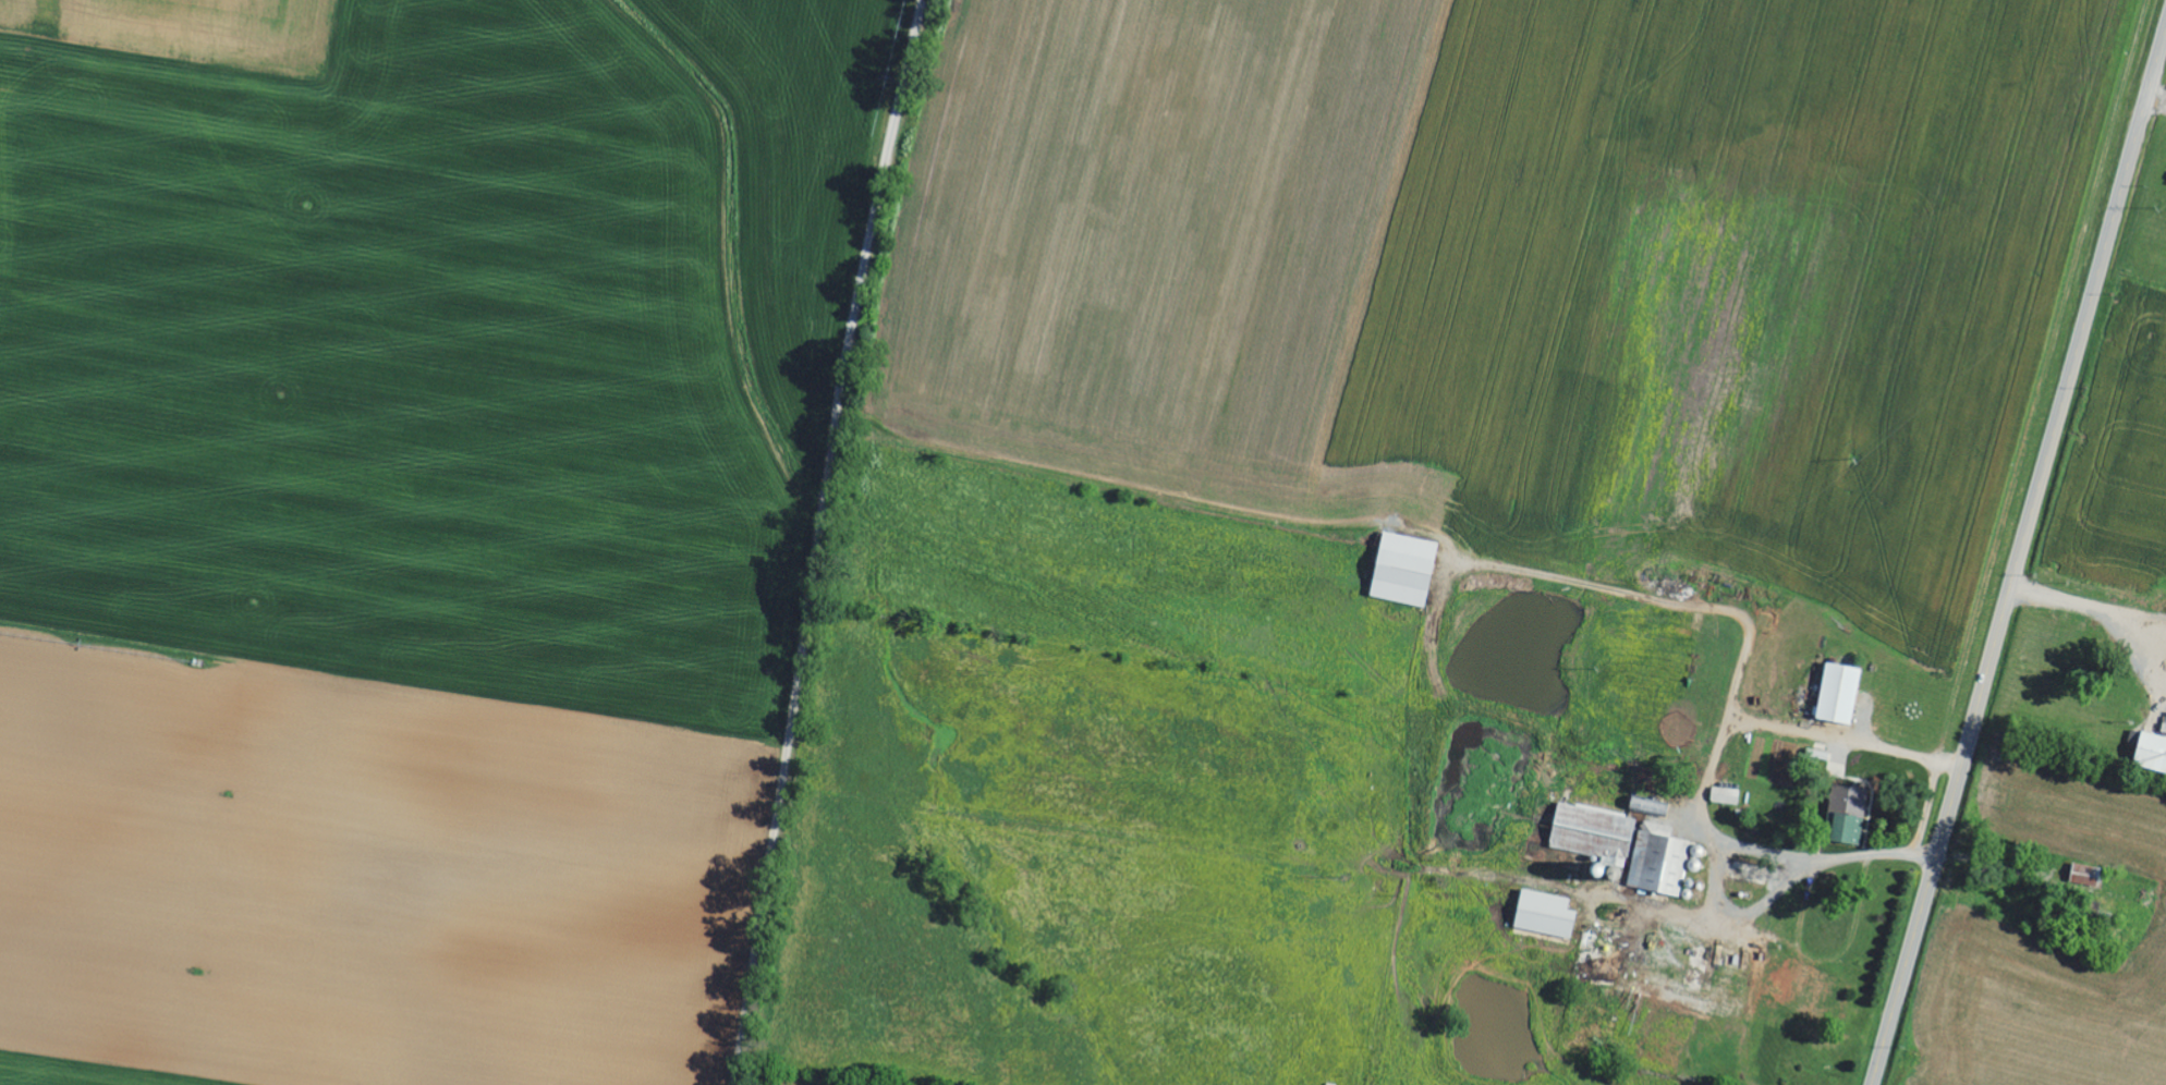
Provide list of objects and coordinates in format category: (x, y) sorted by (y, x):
road: (2018, 558)
building: (1400, 570)
building: (1837, 695)
building: (2149, 754)
building: (1724, 796)
building: (1645, 808)
building: (1843, 816)
building: (1656, 861)
building: (2083, 876)
building: (1542, 915)
building: (1826, 997)

